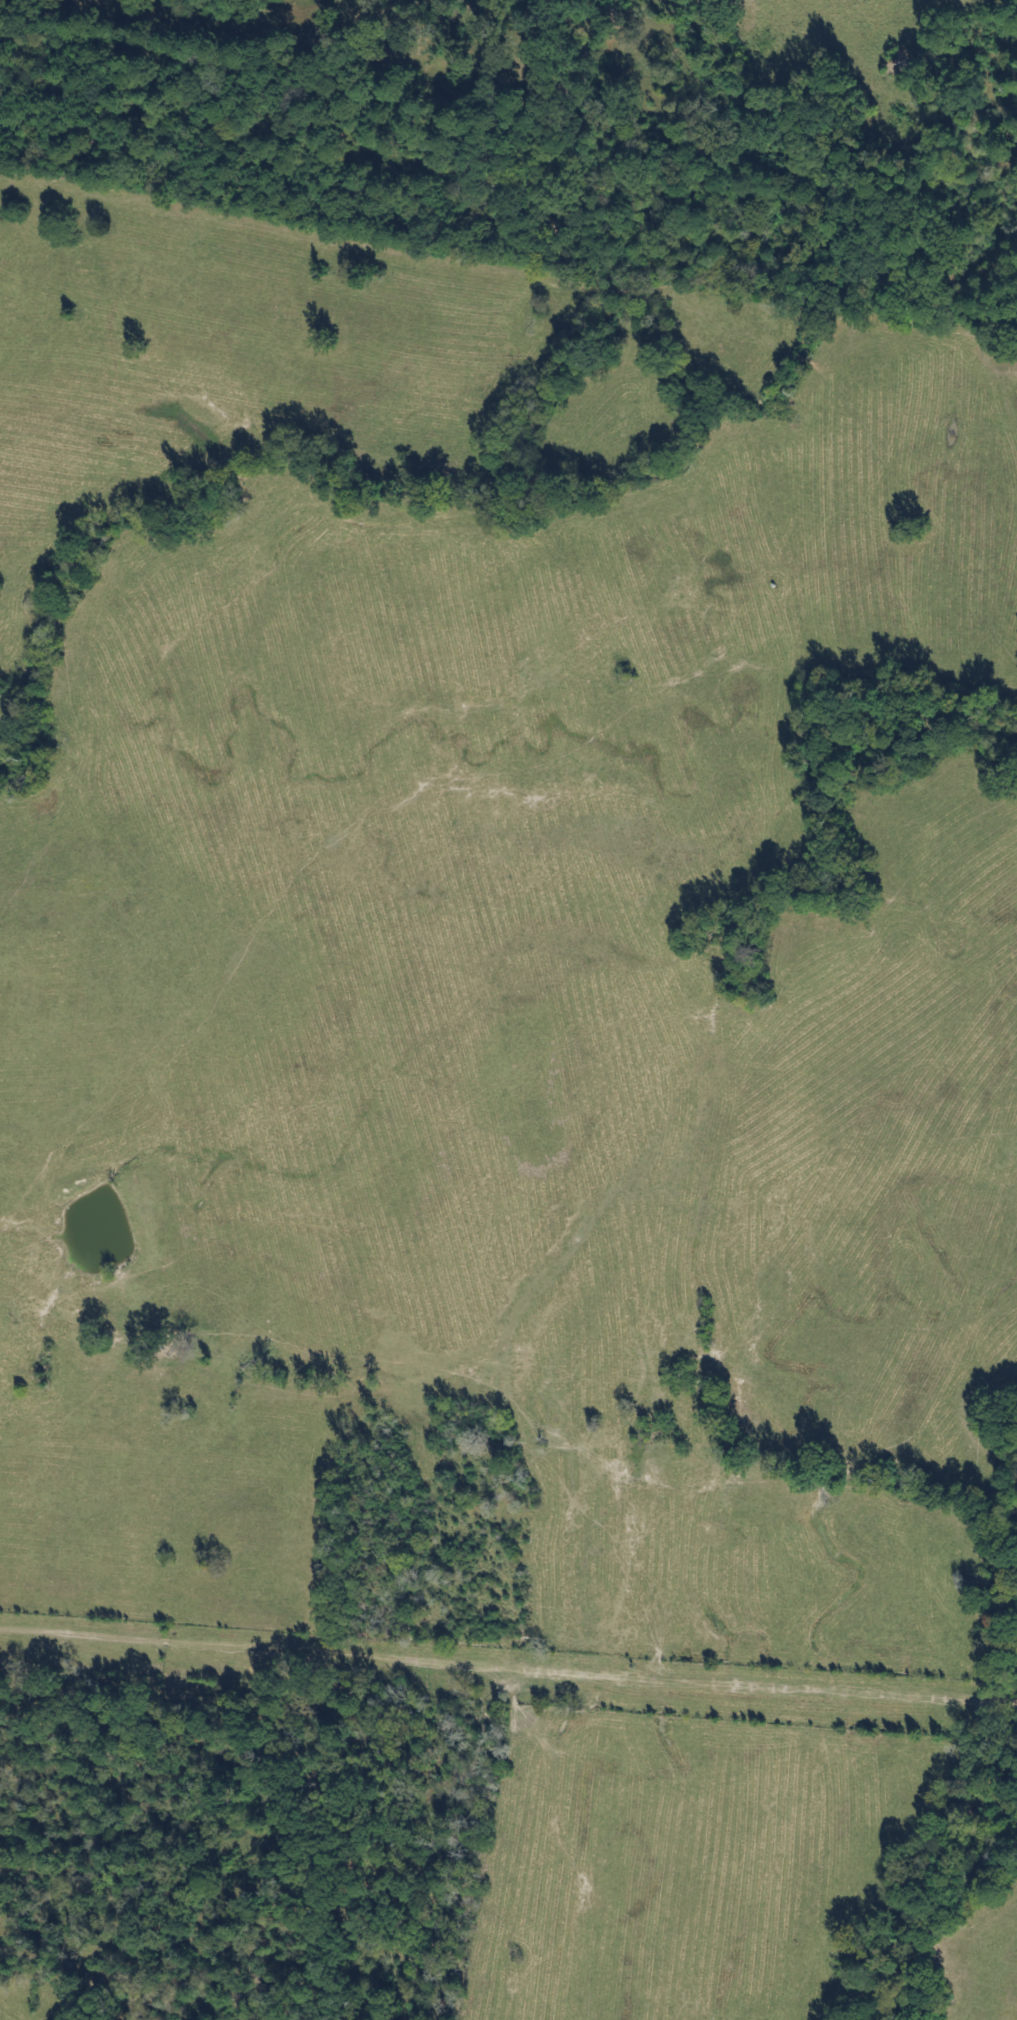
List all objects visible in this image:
road: (508, 1612)

